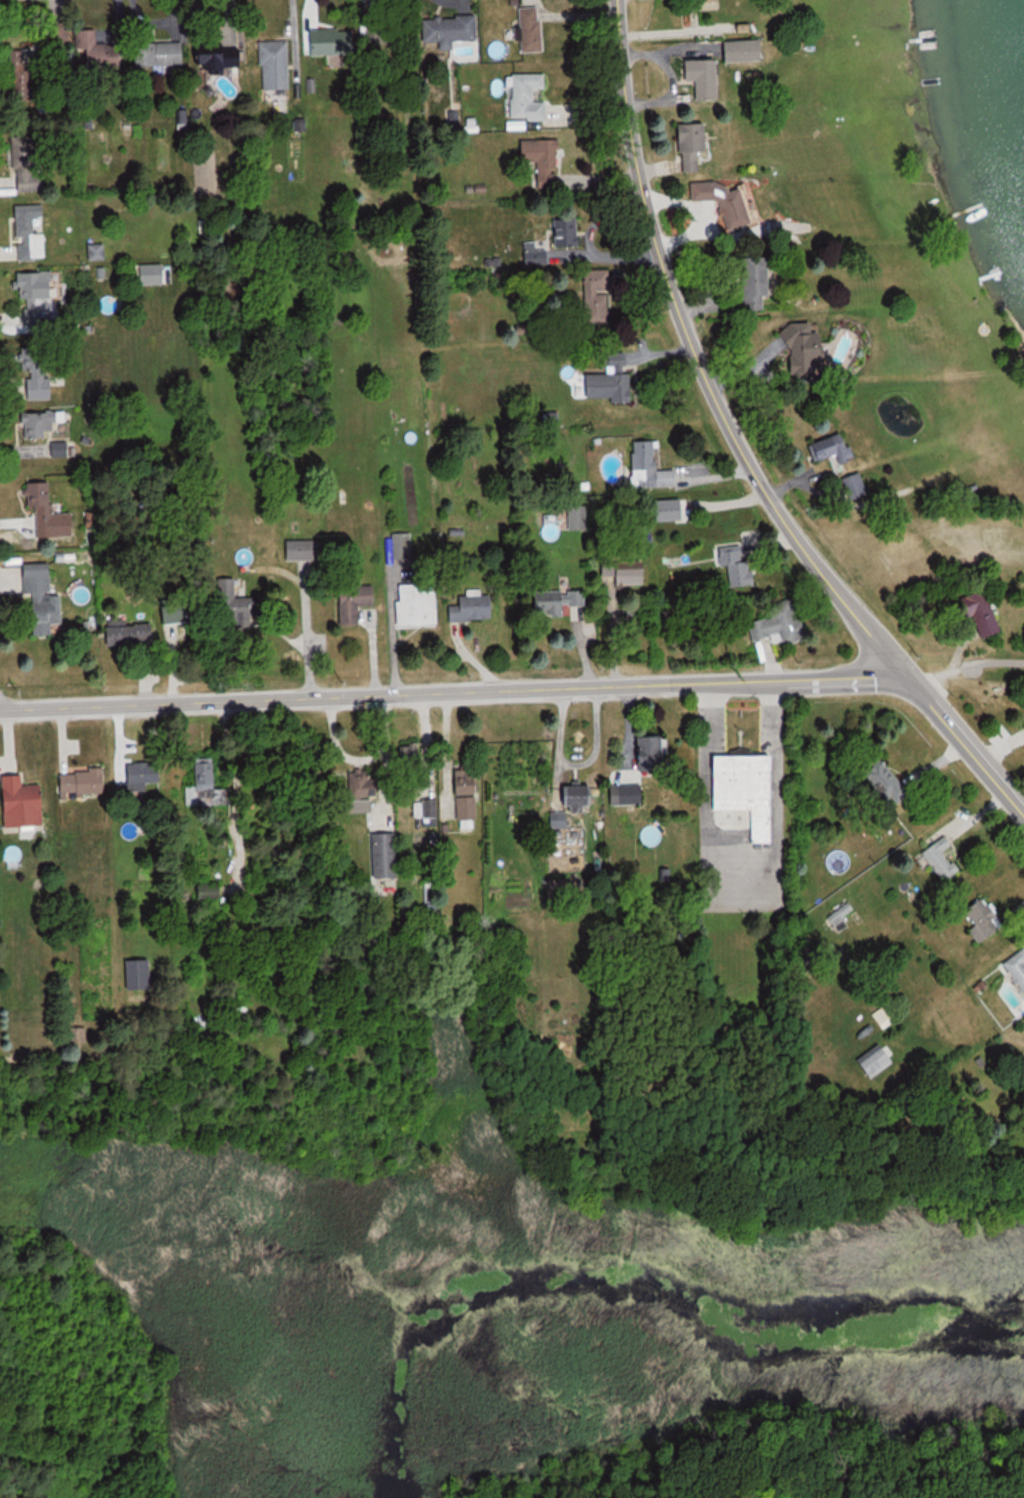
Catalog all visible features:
building: (533, 29)
building: (452, 30)
building: (388, 32)
building: (332, 41)
building: (750, 50)
building: (99, 51)
building: (161, 53)
building: (219, 55)
building: (276, 64)
building: (22, 73)
building: (709, 76)
building: (529, 96)
building: (697, 144)
building: (543, 160)
building: (26, 165)
building: (727, 200)
building: (30, 231)
building: (568, 232)
building: (757, 282)
building: (598, 295)
building: (33, 298)
building: (810, 347)
road: (699, 365)
building: (38, 374)
building: (612, 380)
building: (42, 422)
building: (60, 448)
building: (837, 448)
building: (652, 466)
building: (858, 485)
building: (43, 504)
building: (578, 518)
building: (304, 548)
building: (737, 564)
building: (627, 571)
building: (44, 596)
building: (356, 600)
building: (559, 600)
building: (418, 604)
building: (239, 605)
building: (474, 607)
building: (184, 608)
building: (985, 609)
building: (781, 624)
building: (132, 633)
road: (453, 692)
road: (965, 747)
building: (655, 754)
building: (145, 774)
building: (85, 782)
building: (361, 783)
building: (890, 783)
building: (207, 786)
building: (749, 790)
building: (468, 794)
building: (629, 795)
building: (581, 797)
building: (24, 802)
building: (386, 855)
building: (943, 859)
building: (842, 913)
building: (985, 920)
building: (1018, 965)
building: (884, 1015)
building: (877, 1058)

